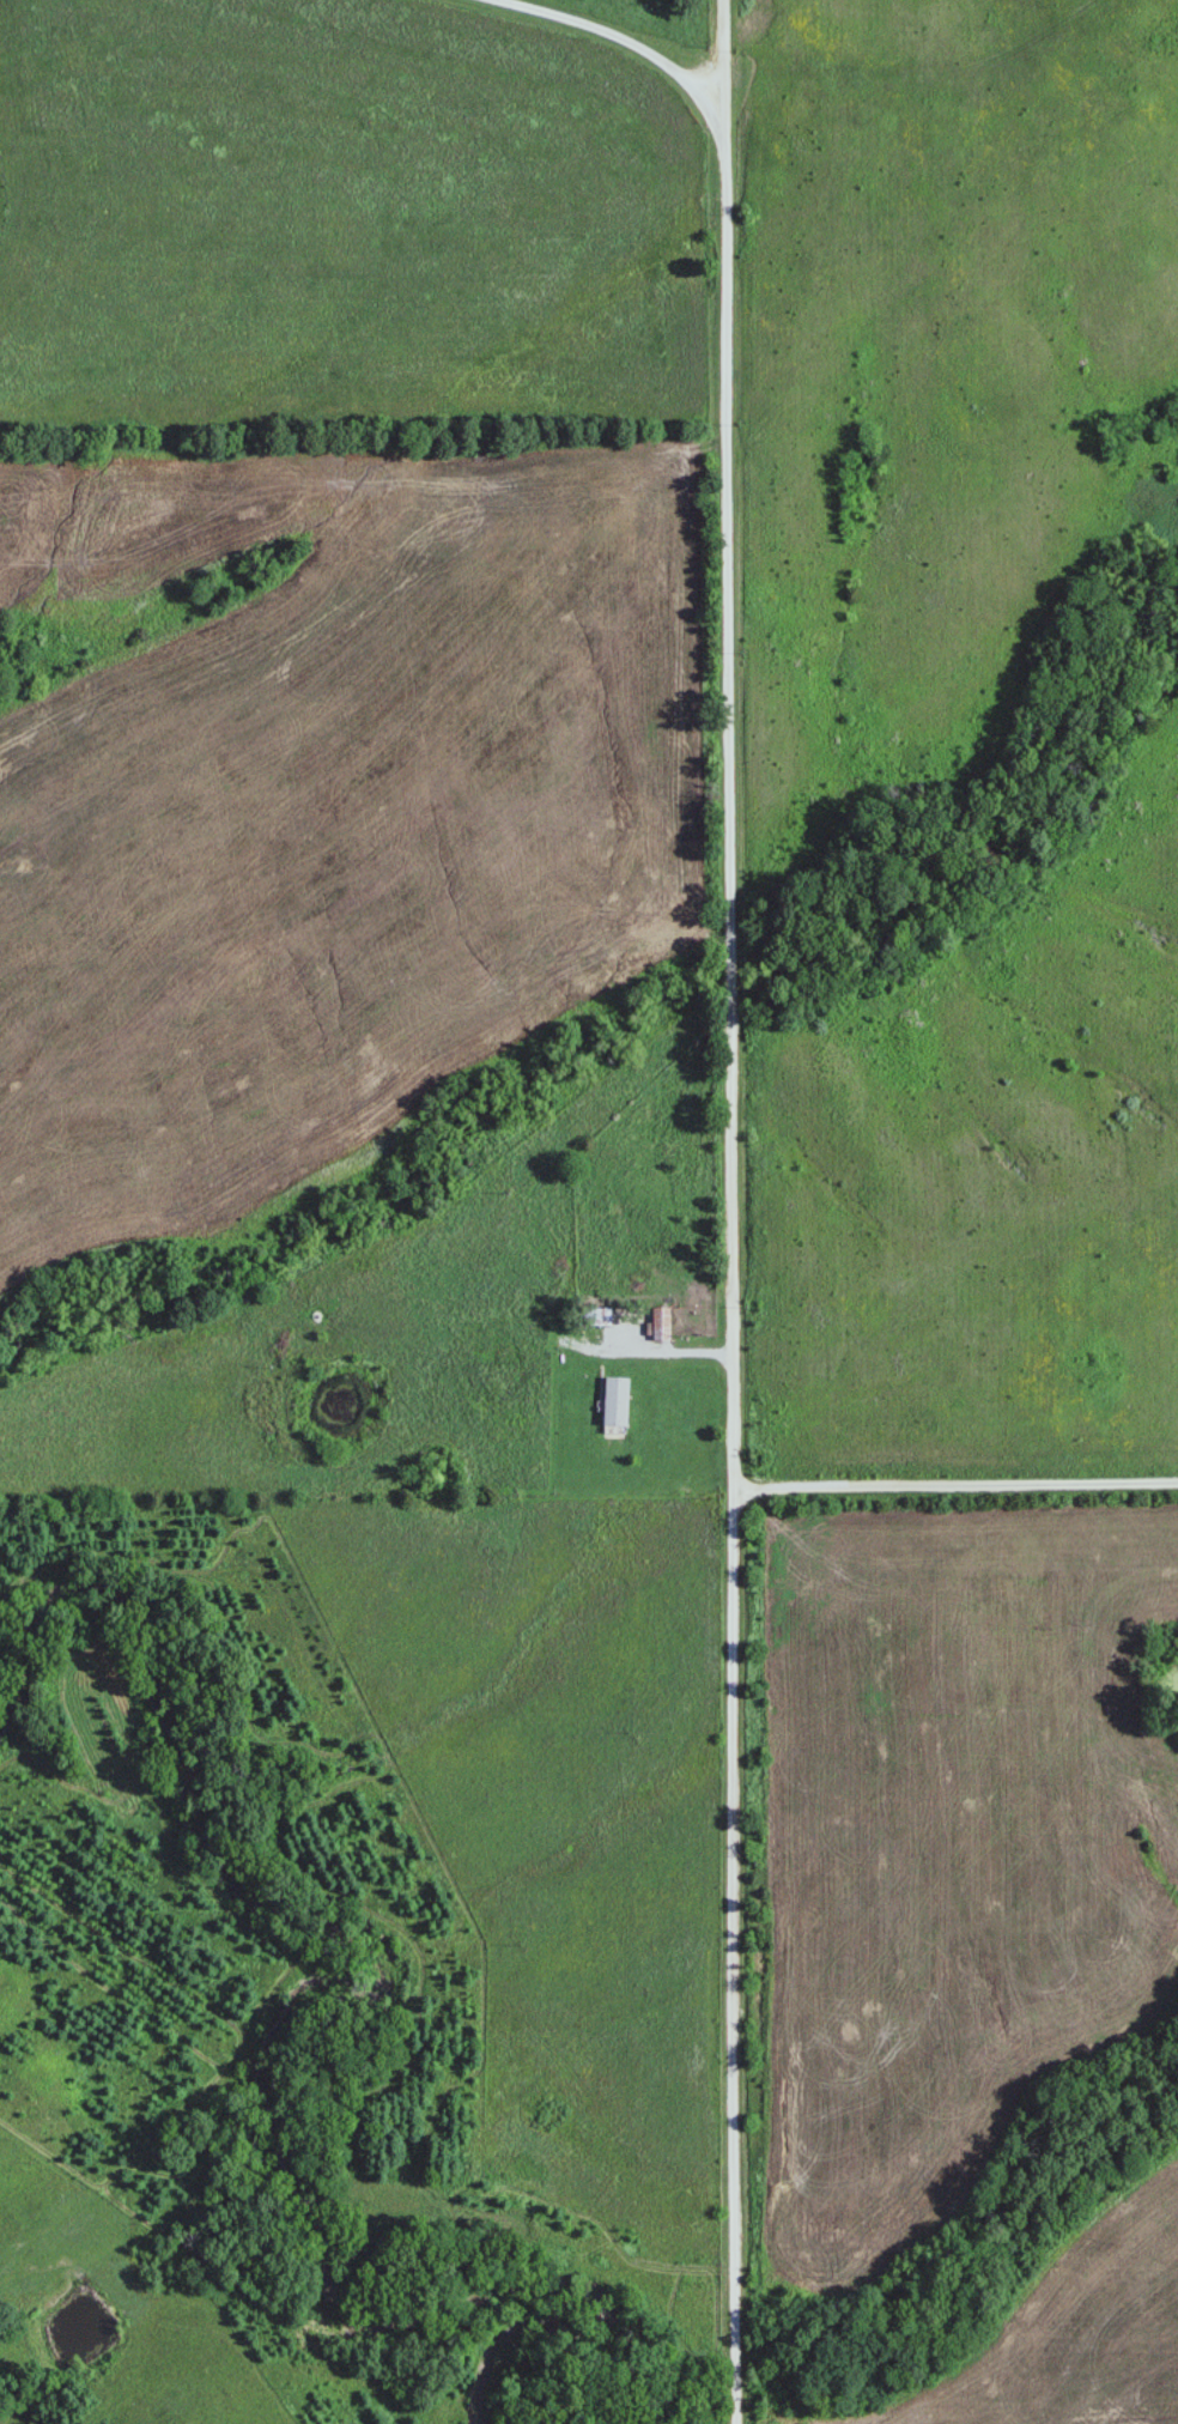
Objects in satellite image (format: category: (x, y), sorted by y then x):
road: (722, 61)
road: (730, 689)
building: (595, 1315)
building: (662, 1322)
road: (672, 1349)
building: (618, 1401)
road: (957, 1484)
road: (730, 1956)

